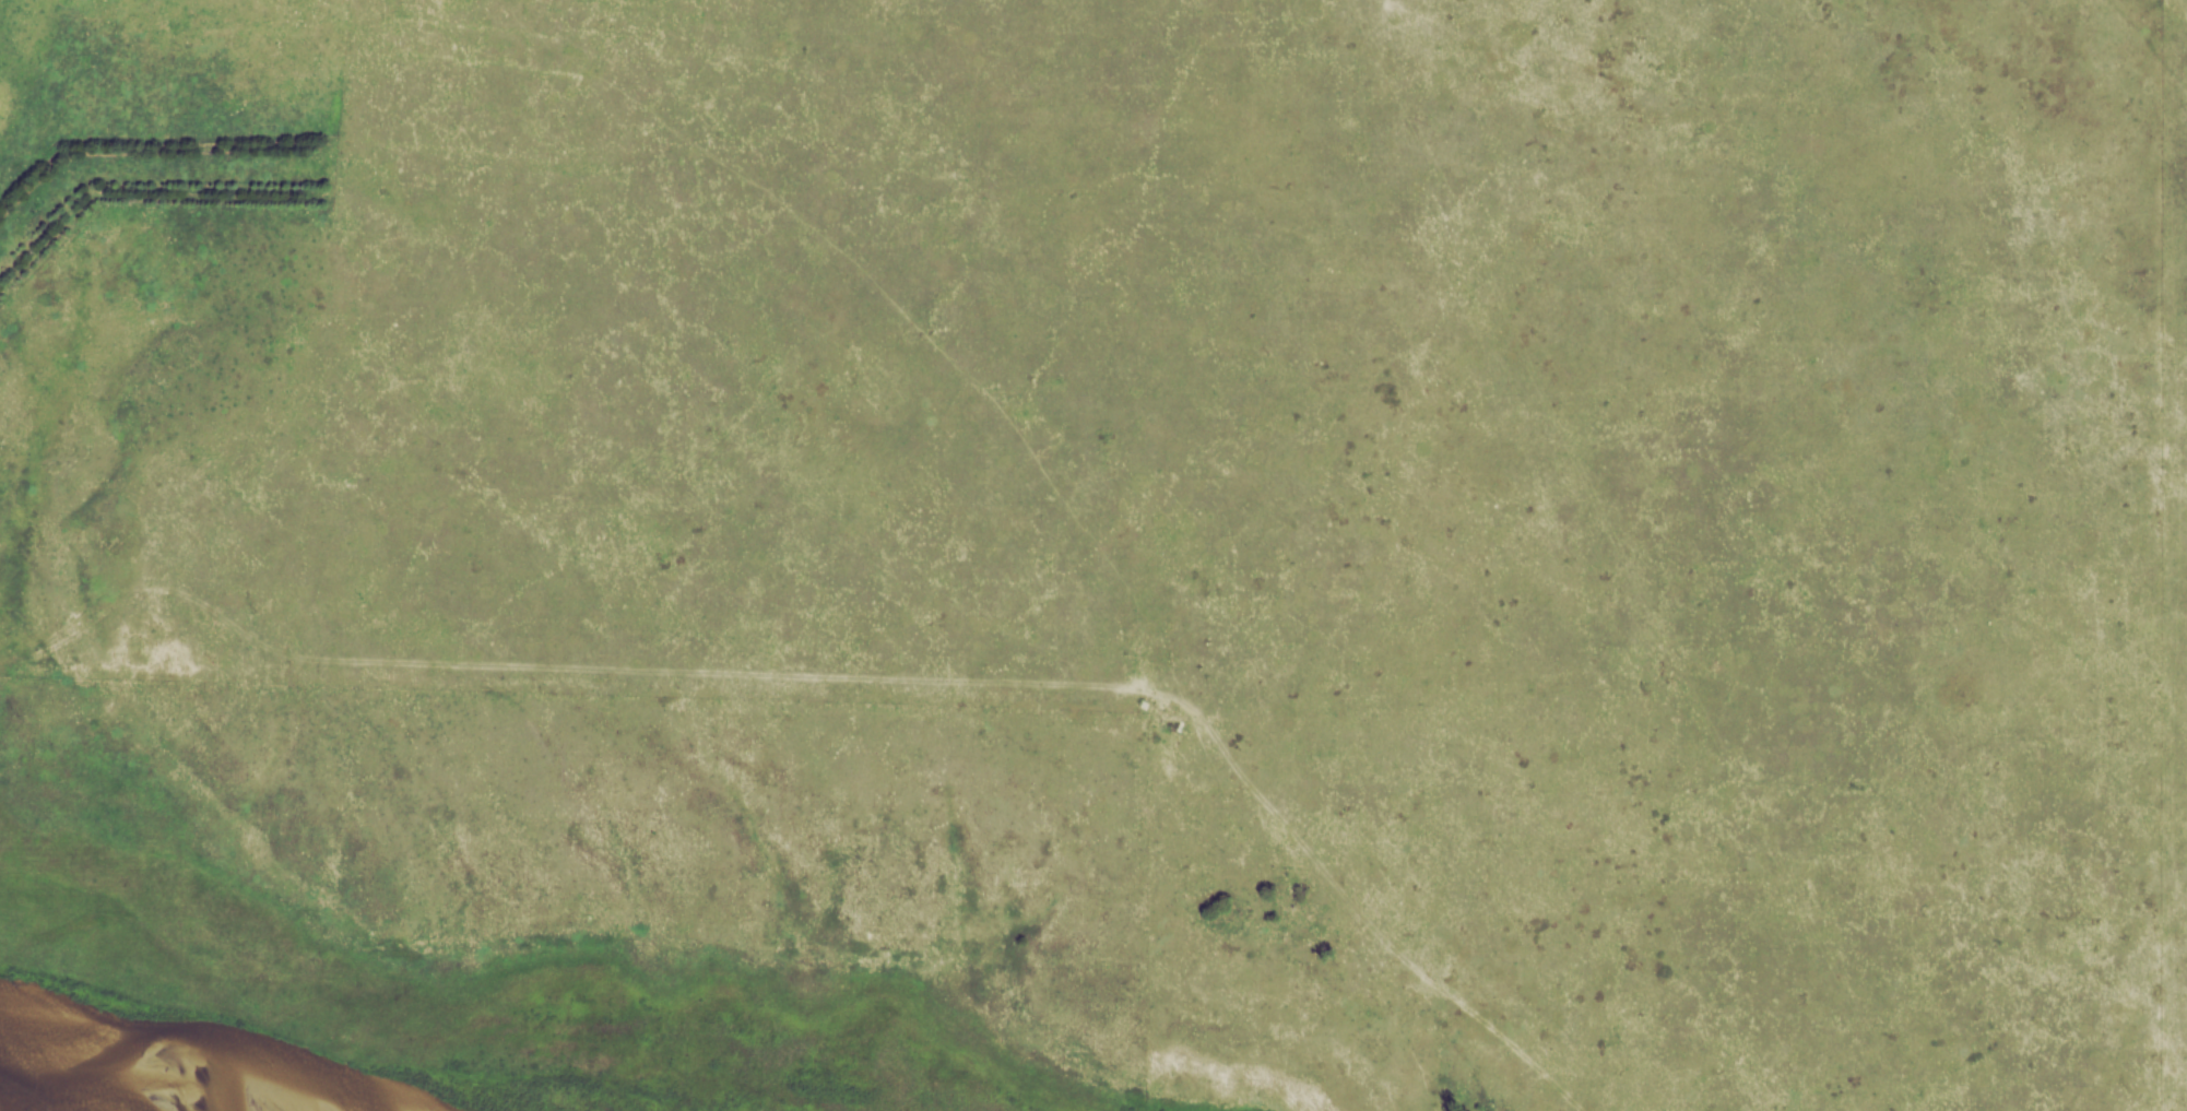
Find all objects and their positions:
river: (12, 1107)

